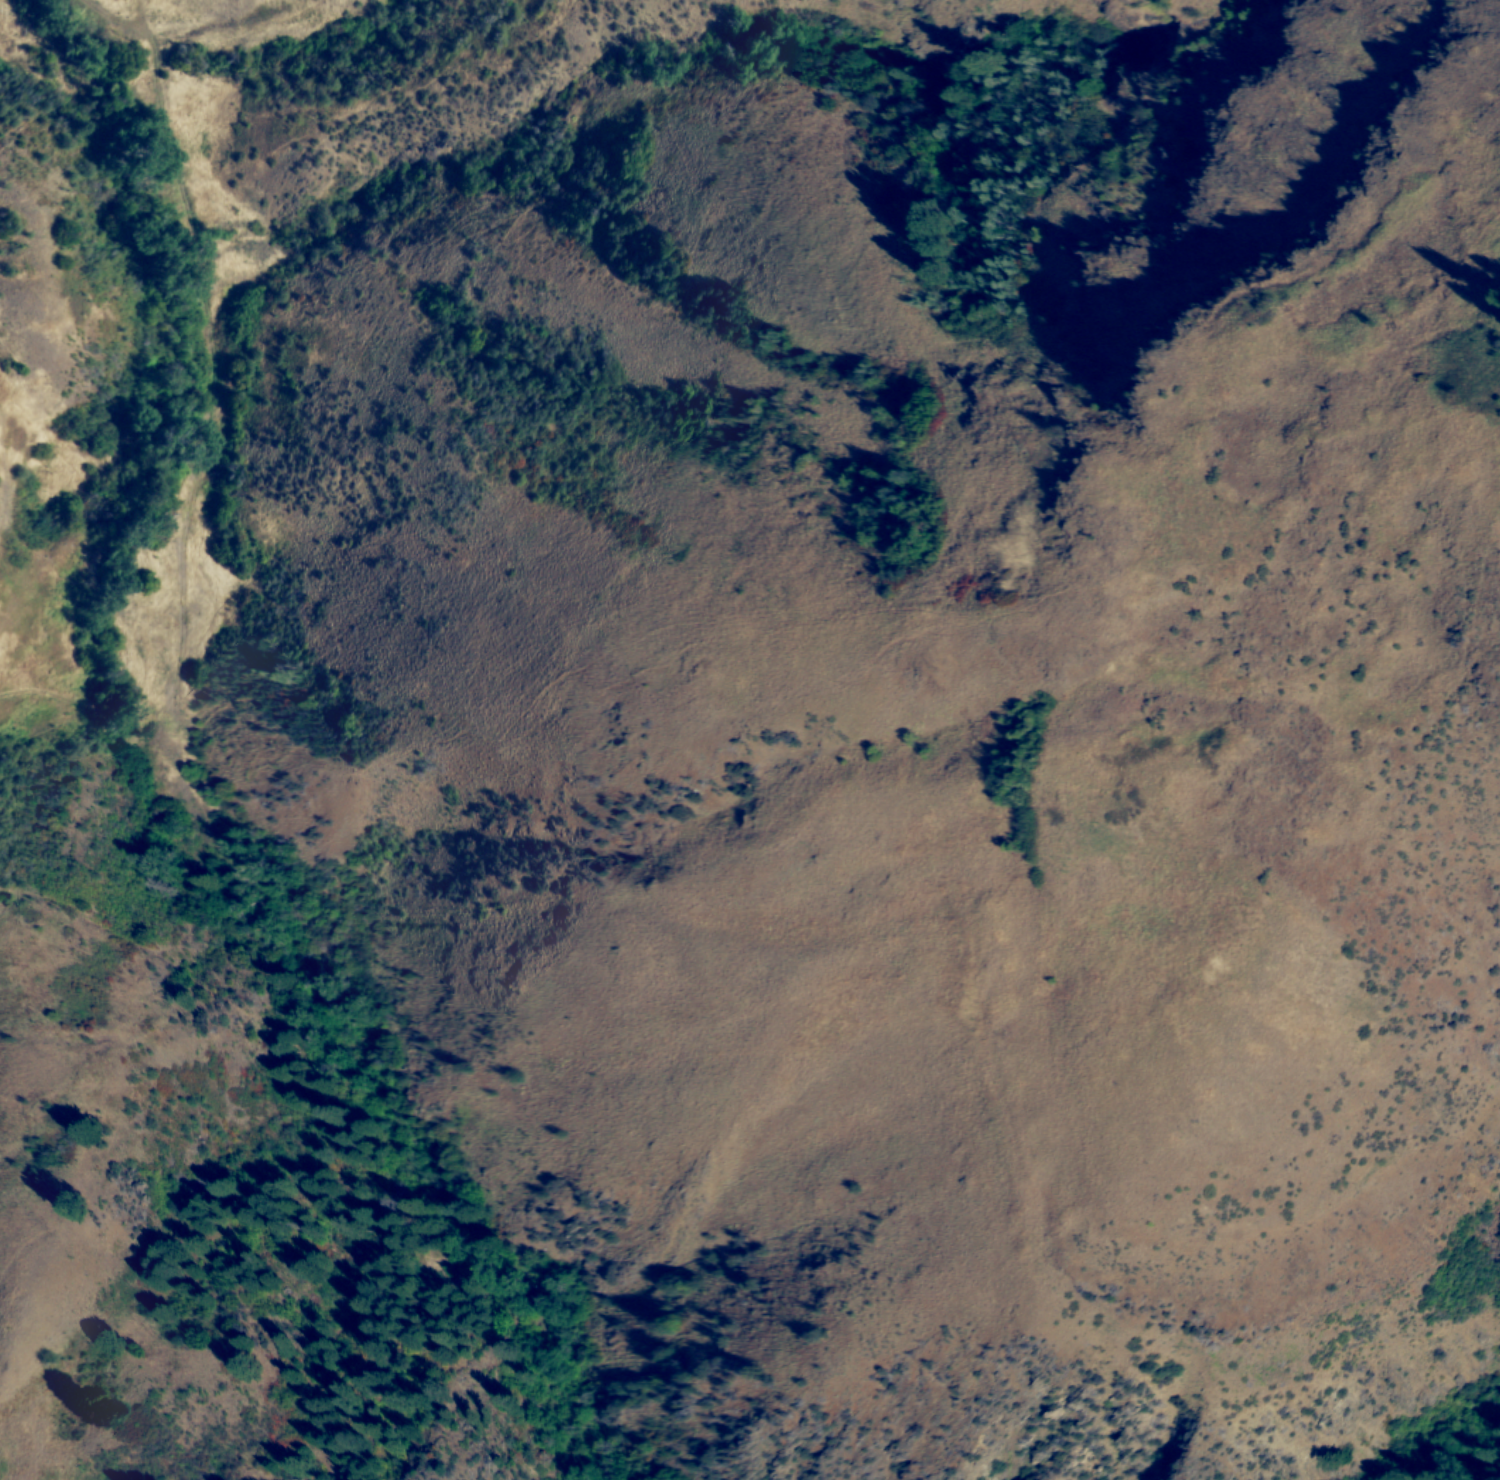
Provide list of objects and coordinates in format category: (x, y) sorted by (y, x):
helipad: (1467, 1087)

